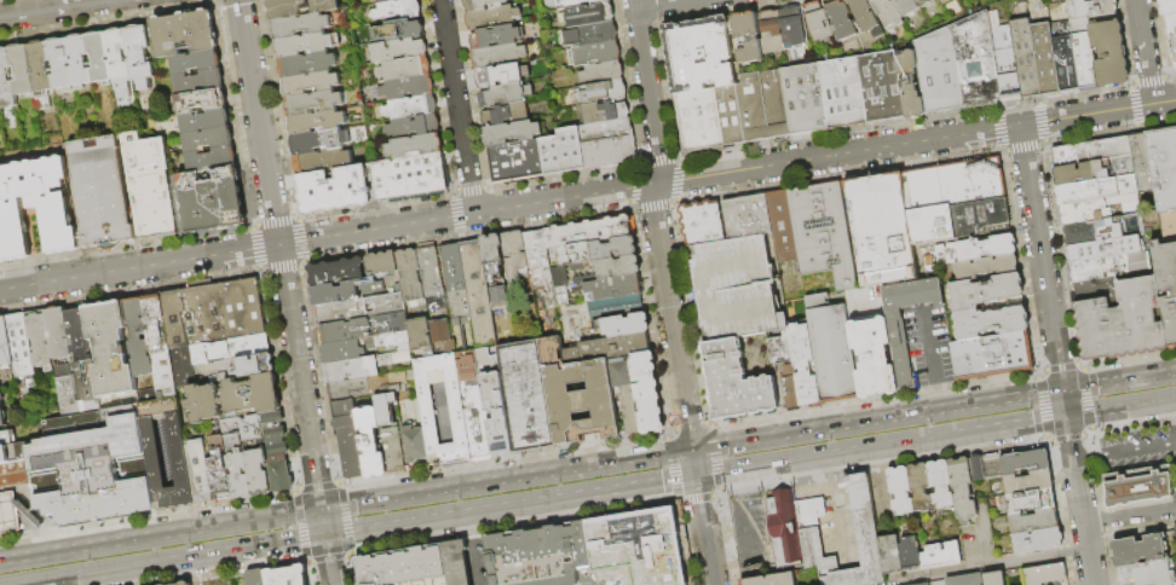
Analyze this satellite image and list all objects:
building: (410, 0)
building: (938, 0)
building: (1071, 0)
building: (382, 2)
building: (923, 2)
building: (582, 4)
road: (661, 4)
building: (482, 5)
building: (905, 7)
road: (51, 8)
building: (301, 8)
building: (1090, 8)
building: (1169, 8)
building: (398, 11)
building: (886, 12)
building: (588, 17)
building: (864, 17)
building: (494, 18)
building: (838, 19)
building: (818, 23)
building: (301, 27)
building: (791, 28)
building: (398, 31)
building: (183, 33)
building: (769, 33)
building: (590, 36)
building: (497, 37)
building: (746, 37)
building: (1172, 37)
building: (305, 45)
building: (1108, 51)
building: (398, 52)
road: (1145, 52)
building: (698, 53)
building: (1083, 53)
building: (139, 54)
building: (500, 56)
building: (595, 56)
building: (98, 57)
building: (1025, 58)
building: (1044, 59)
building: (79, 60)
building: (1065, 60)
building: (196, 62)
building: (975, 62)
building: (1004, 62)
building: (59, 63)
building: (119, 63)
building: (307, 64)
building: (22, 69)
building: (405, 70)
building: (41, 73)
building: (938, 73)
building: (6, 74)
building: (603, 74)
building: (502, 75)
building: (198, 81)
building: (311, 85)
building: (909, 86)
building: (881, 87)
building: (409, 89)
building: (842, 93)
building: (601, 94)
building: (507, 97)
building: (202, 100)
building: (802, 102)
building: (313, 103)
road: (1164, 103)
road: (456, 106)
building: (761, 106)
building: (411, 109)
building: (606, 114)
road: (1085, 115)
building: (507, 116)
building: (730, 117)
building: (206, 120)
building: (317, 121)
building: (698, 123)
building: (415, 128)
building: (513, 134)
building: (208, 138)
building: (317, 143)
building: (609, 146)
building: (415, 147)
building: (564, 152)
building: (1097, 154)
building: (212, 158)
building: (322, 162)
building: (517, 163)
building: (1142, 163)
building: (1164, 167)
building: (1080, 173)
building: (411, 179)
building: (953, 183)
building: (150, 186)
building: (1096, 190)
building: (102, 192)
building: (335, 192)
building: (208, 201)
building: (35, 207)
road: (509, 208)
building: (1097, 208)
building: (979, 215)
building: (746, 216)
building: (702, 222)
road: (656, 224)
building: (930, 224)
building: (782, 226)
building: (1169, 226)
building: (881, 228)
building: (1103, 228)
building: (586, 231)
building: (823, 232)
building: (975, 248)
building: (593, 251)
building: (1090, 251)
road: (279, 255)
building: (490, 256)
building: (512, 256)
road: (1040, 257)
building: (380, 263)
building: (1137, 263)
building: (986, 267)
building: (1097, 268)
building: (609, 270)
building: (334, 271)
building: (427, 278)
building: (408, 280)
building: (540, 283)
building: (558, 285)
building: (1166, 285)
building: (610, 288)
building: (732, 288)
parking lot: (732, 288)
building: (1096, 289)
building: (985, 290)
building: (341, 291)
building: (475, 292)
building: (497, 295)
building: (455, 299)
building: (612, 307)
building: (358, 308)
building: (208, 319)
building: (990, 322)
building: (1122, 322)
building: (622, 325)
building: (362, 328)
building: (76, 331)
building: (416, 335)
building: (439, 335)
building: (137, 336)
building: (57, 340)
building: (39, 341)
building: (386, 341)
building: (899, 343)
building: (5, 344)
building: (19, 344)
building: (158, 344)
building: (108, 348)
building: (214, 348)
building: (605, 348)
building: (831, 349)
building: (339, 351)
road: (933, 352)
building: (992, 355)
building: (872, 357)
building: (784, 363)
building: (246, 364)
building: (803, 365)
building: (356, 367)
building: (630, 369)
building: (83, 377)
road: (1118, 381)
building: (736, 382)
building: (364, 387)
traffic signals: (1062, 390)
building: (252, 394)
building: (65, 395)
building: (524, 396)
road: (940, 396)
building: (0, 401)
building: (117, 401)
building: (202, 402)
road: (1065, 404)
building: (601, 405)
road: (965, 405)
building: (646, 406)
building: (423, 407)
road: (1122, 407)
building: (382, 409)
building: (480, 409)
building: (628, 411)
building: (1, 416)
traffic signals: (1067, 417)
building: (249, 427)
road: (780, 435)
building: (6, 436)
building: (345, 440)
building: (368, 444)
building: (411, 444)
road: (881, 446)
road: (1137, 447)
building: (275, 450)
traffic signals: (692, 450)
building: (390, 451)
building: (12, 452)
road: (1086, 457)
building: (235, 458)
building: (1024, 462)
road: (693, 463)
building: (179, 464)
building: (991, 465)
building: (218, 467)
building: (975, 468)
building: (197, 470)
building: (91, 471)
building: (256, 471)
building: (13, 475)
road: (830, 475)
traffic signals: (696, 476)
road: (506, 480)
road: (739, 483)
building: (939, 483)
building: (1026, 483)
building: (1137, 486)
road: (628, 487)
building: (918, 487)
building: (961, 488)
building: (899, 490)
road: (1079, 500)
building: (1030, 502)
traffic signals: (321, 510)
building: (807, 510)
building: (7, 512)
gas station: (7, 512)
road: (1130, 516)
road: (443, 517)
building: (1032, 521)
road: (323, 523)
road: (745, 526)
road: (838, 526)
building: (783, 528)
road: (704, 531)
building: (1174, 531)
road: (160, 535)
traffic signals: (325, 537)
building: (864, 541)
building: (1036, 541)
building: (636, 545)
road: (472, 549)
building: (813, 550)
building: (1138, 550)
building: (538, 554)
building: (909, 554)
building: (939, 555)
road: (730, 558)
road: (175, 560)
road: (328, 561)
building: (455, 562)
road: (987, 564)
building: (402, 567)
building: (1153, 573)
building: (1043, 574)
parking lot: (1124, 575)
building: (286, 577)
building: (255, 578)
building: (992, 578)
building: (769, 579)
building: (964, 579)
building: (230, 581)
building: (184, 583)
building: (936, 583)
parking lot: (1055, 583)
building: (923, 584)
building: (1175, 584)

